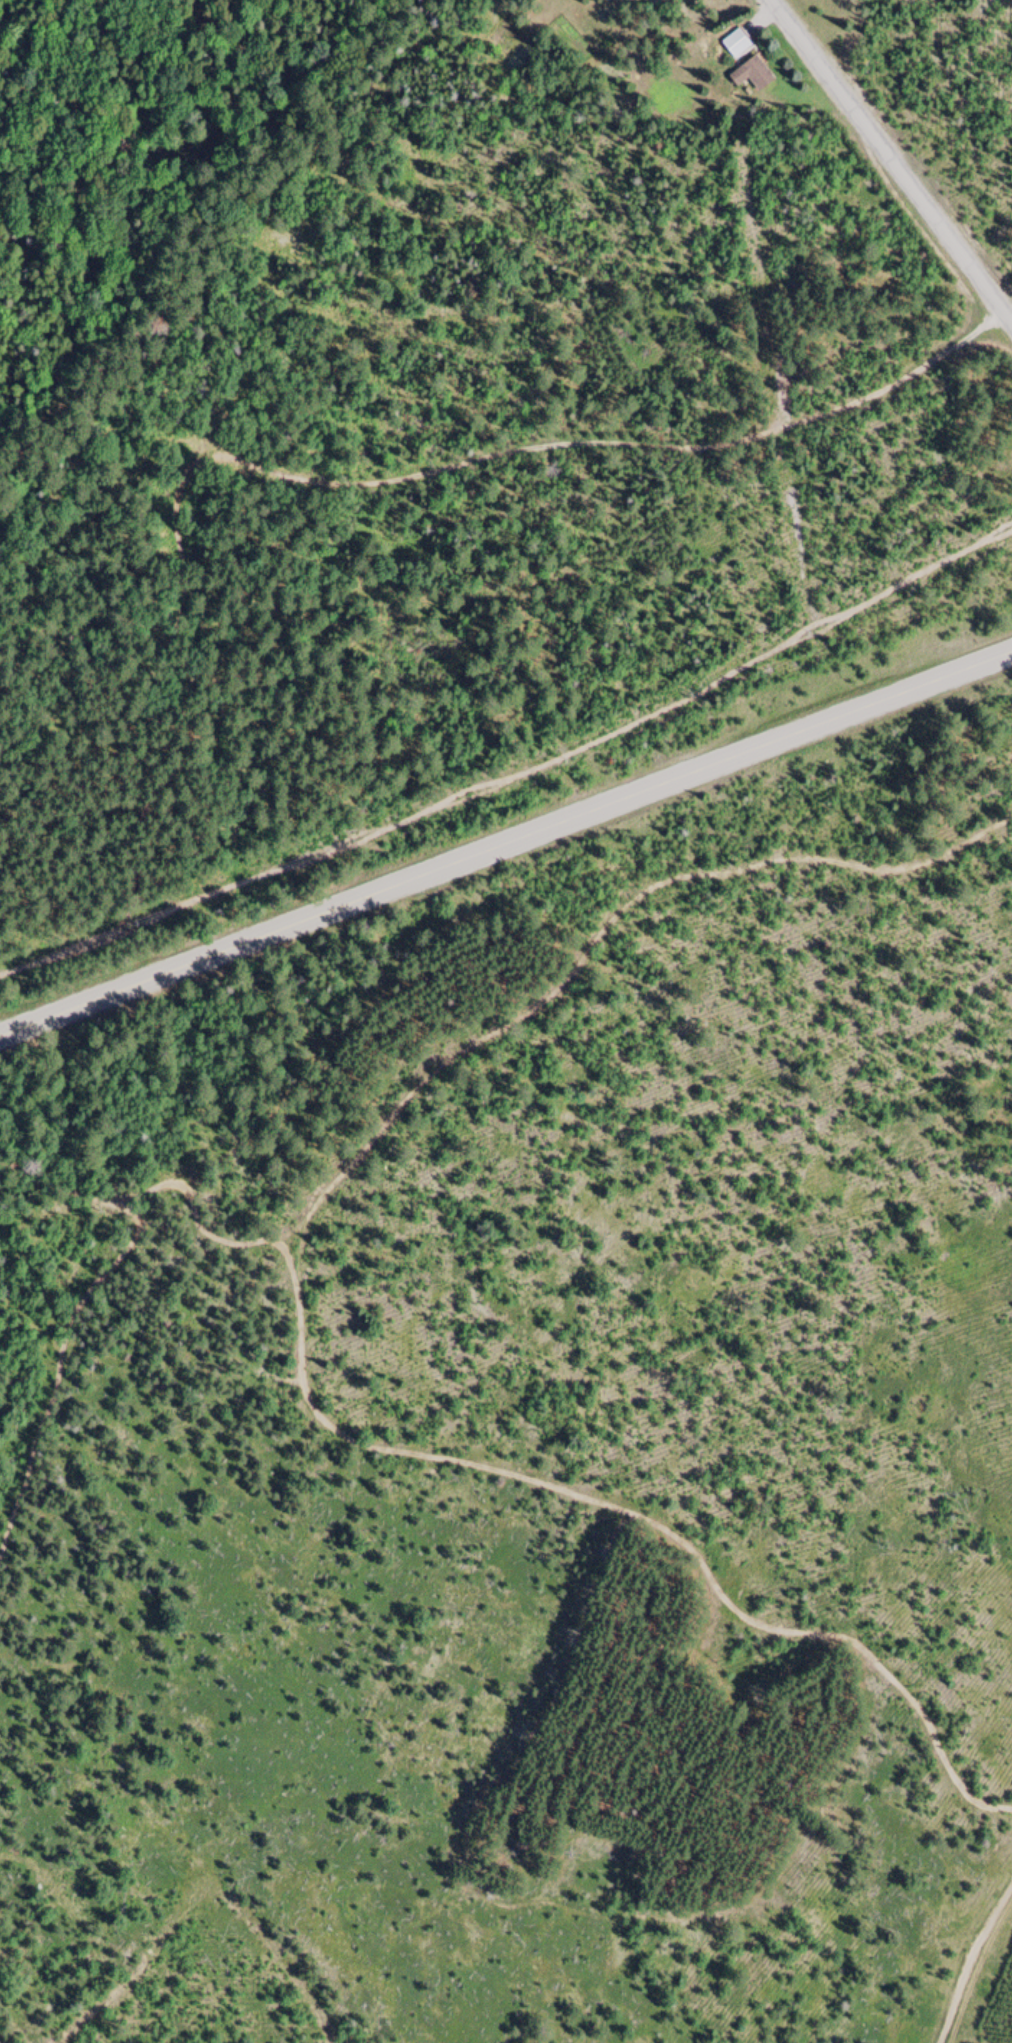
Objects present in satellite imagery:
building: (736, 46)
building: (752, 76)
road: (892, 163)
road: (596, 443)
road: (506, 845)
road: (970, 1961)

